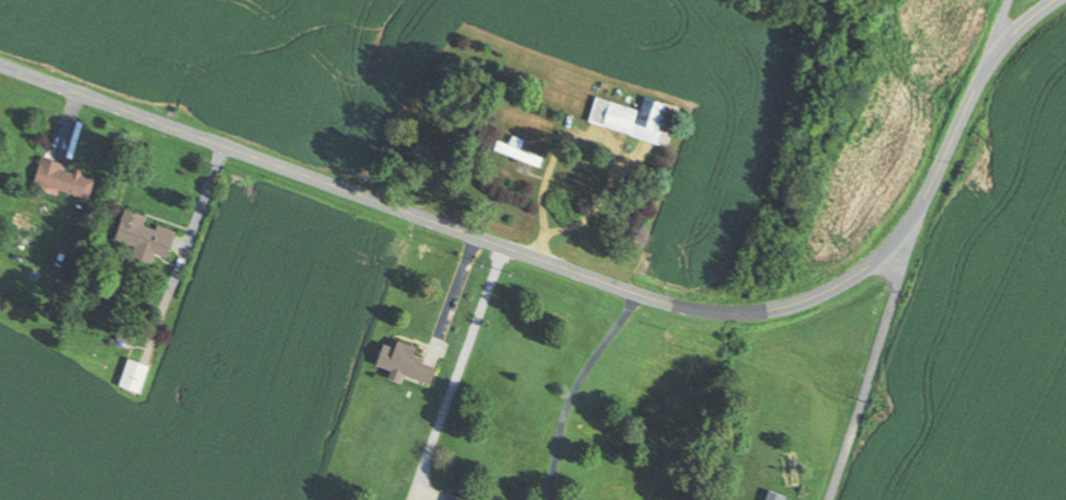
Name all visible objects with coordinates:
road: (1001, 29)
road: (586, 273)
road: (878, 352)

